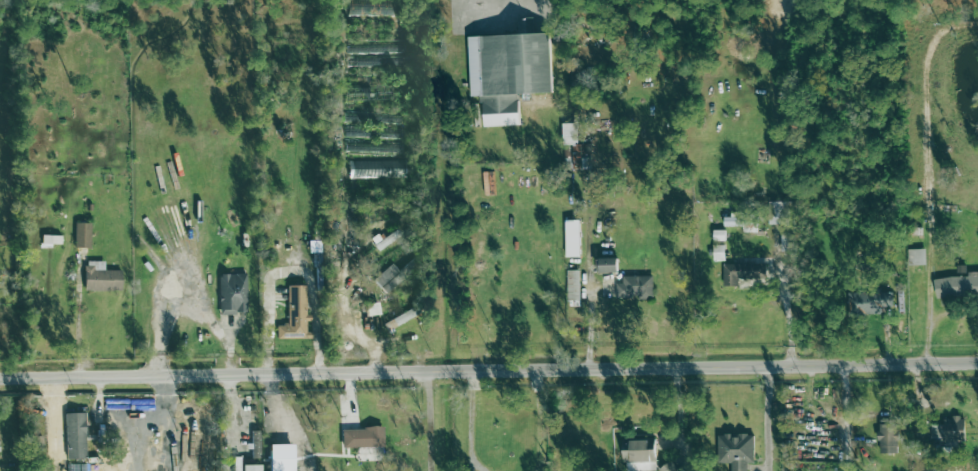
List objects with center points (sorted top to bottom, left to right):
road: (472, 12)
building: (508, 72)
building: (570, 133)
building: (578, 156)
building: (776, 213)
building: (742, 223)
building: (81, 235)
building: (718, 236)
building: (572, 238)
building: (48, 241)
building: (718, 253)
building: (916, 257)
building: (607, 265)
building: (742, 273)
building: (99, 277)
building: (386, 278)
building: (572, 285)
building: (957, 286)
building: (635, 287)
building: (231, 293)
road: (611, 295)
building: (867, 302)
road: (594, 308)
building: (294, 315)
building: (398, 320)
road: (382, 342)
road: (488, 371)
road: (768, 419)
road: (850, 419)
road: (540, 421)
road: (429, 422)
road: (471, 423)
building: (954, 429)
building: (936, 432)
building: (74, 435)
building: (361, 437)
building: (888, 438)
building: (736, 451)
building: (639, 455)
building: (280, 464)
building: (667, 467)
building: (250, 468)

